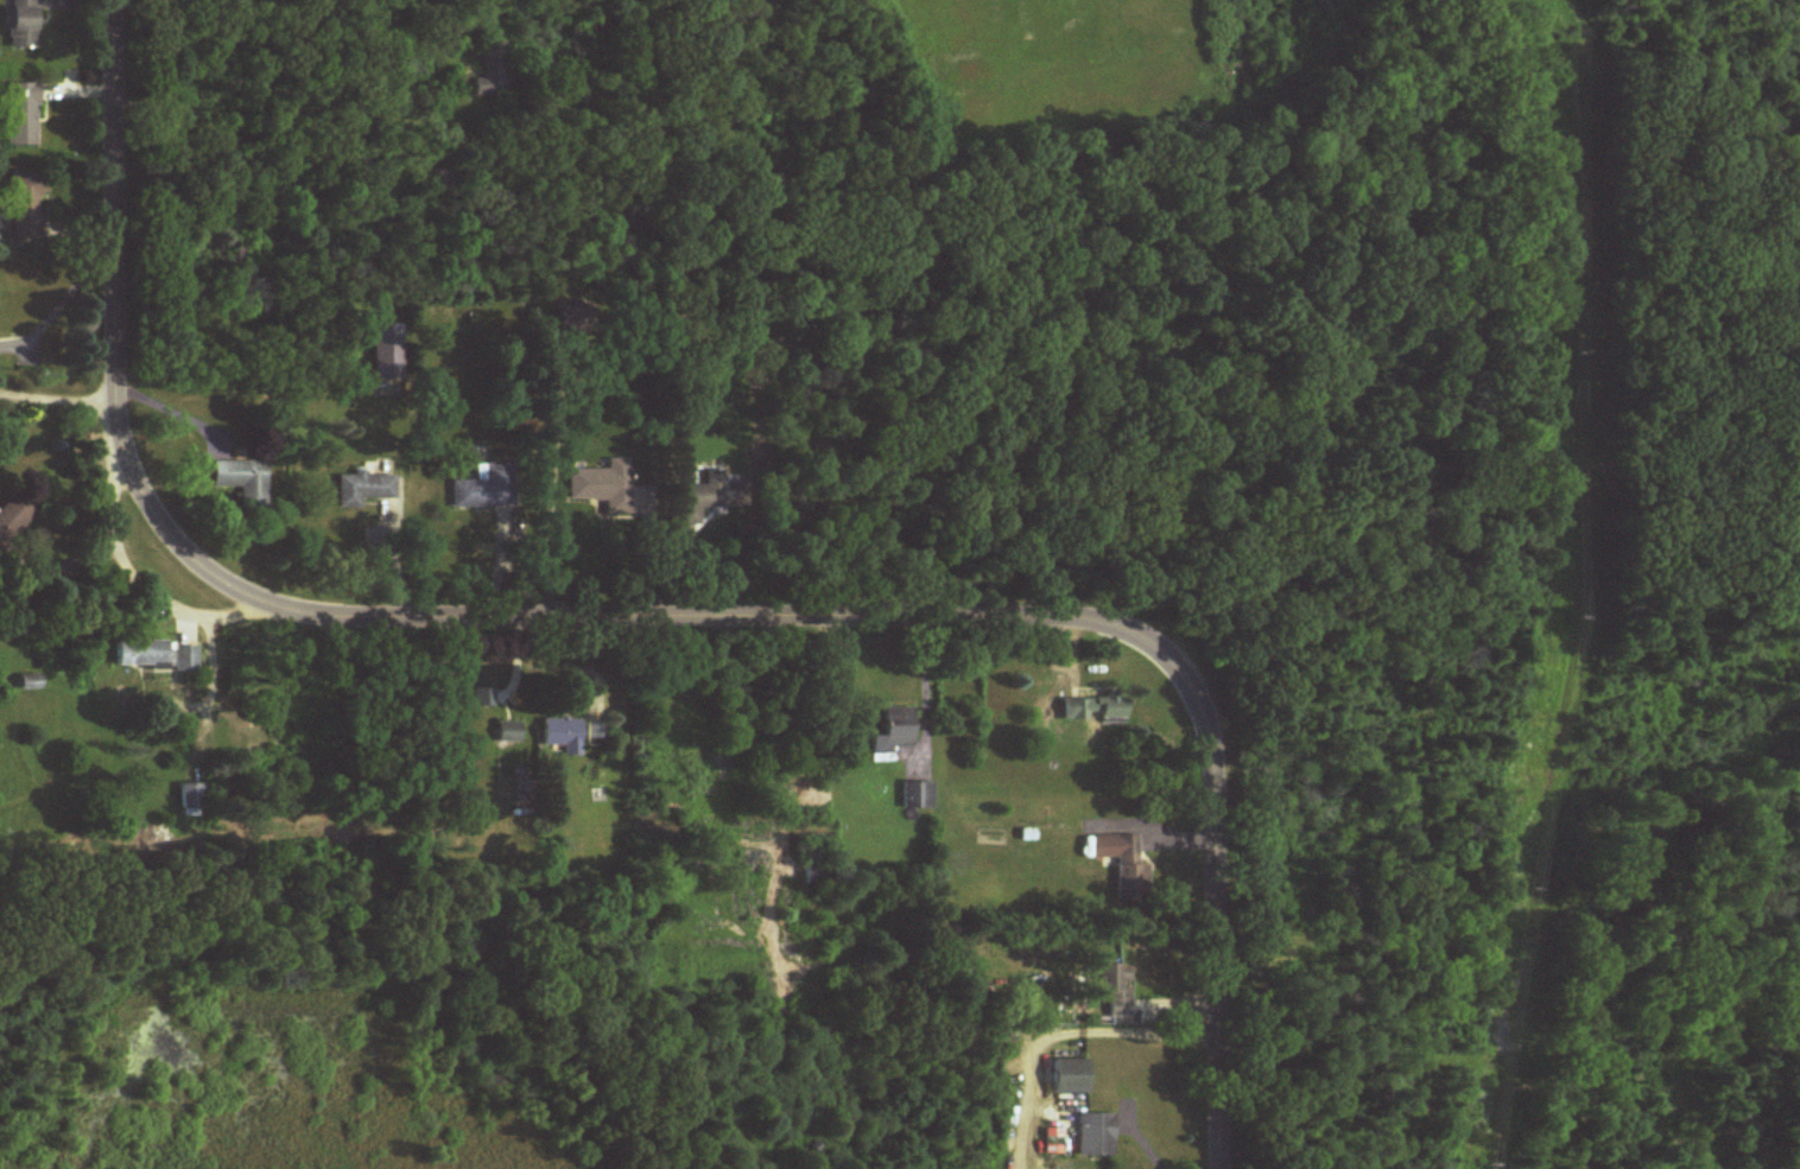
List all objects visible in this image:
building: (23, 24)
building: (490, 70)
building: (20, 115)
building: (432, 179)
building: (24, 207)
building: (229, 255)
building: (386, 351)
road: (58, 399)
road: (177, 409)
building: (242, 482)
building: (602, 487)
building: (486, 489)
building: (362, 490)
building: (704, 498)
building: (12, 519)
road: (103, 544)
road: (644, 555)
road: (164, 597)
road: (642, 621)
building: (142, 653)
building: (184, 659)
building: (31, 682)
road: (925, 688)
building: (1092, 710)
building: (508, 732)
building: (595, 732)
building: (562, 735)
building: (893, 735)
building: (190, 796)
building: (918, 796)
building: (812, 868)
building: (1128, 871)
building: (1114, 990)
building: (1066, 1076)
building: (1091, 1136)

